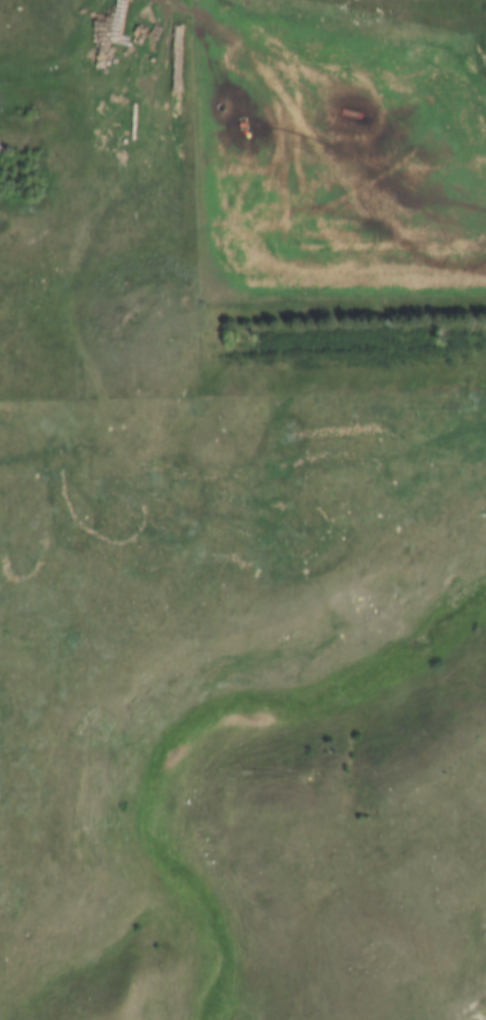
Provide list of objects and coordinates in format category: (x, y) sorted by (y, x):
road: (300, 100)

